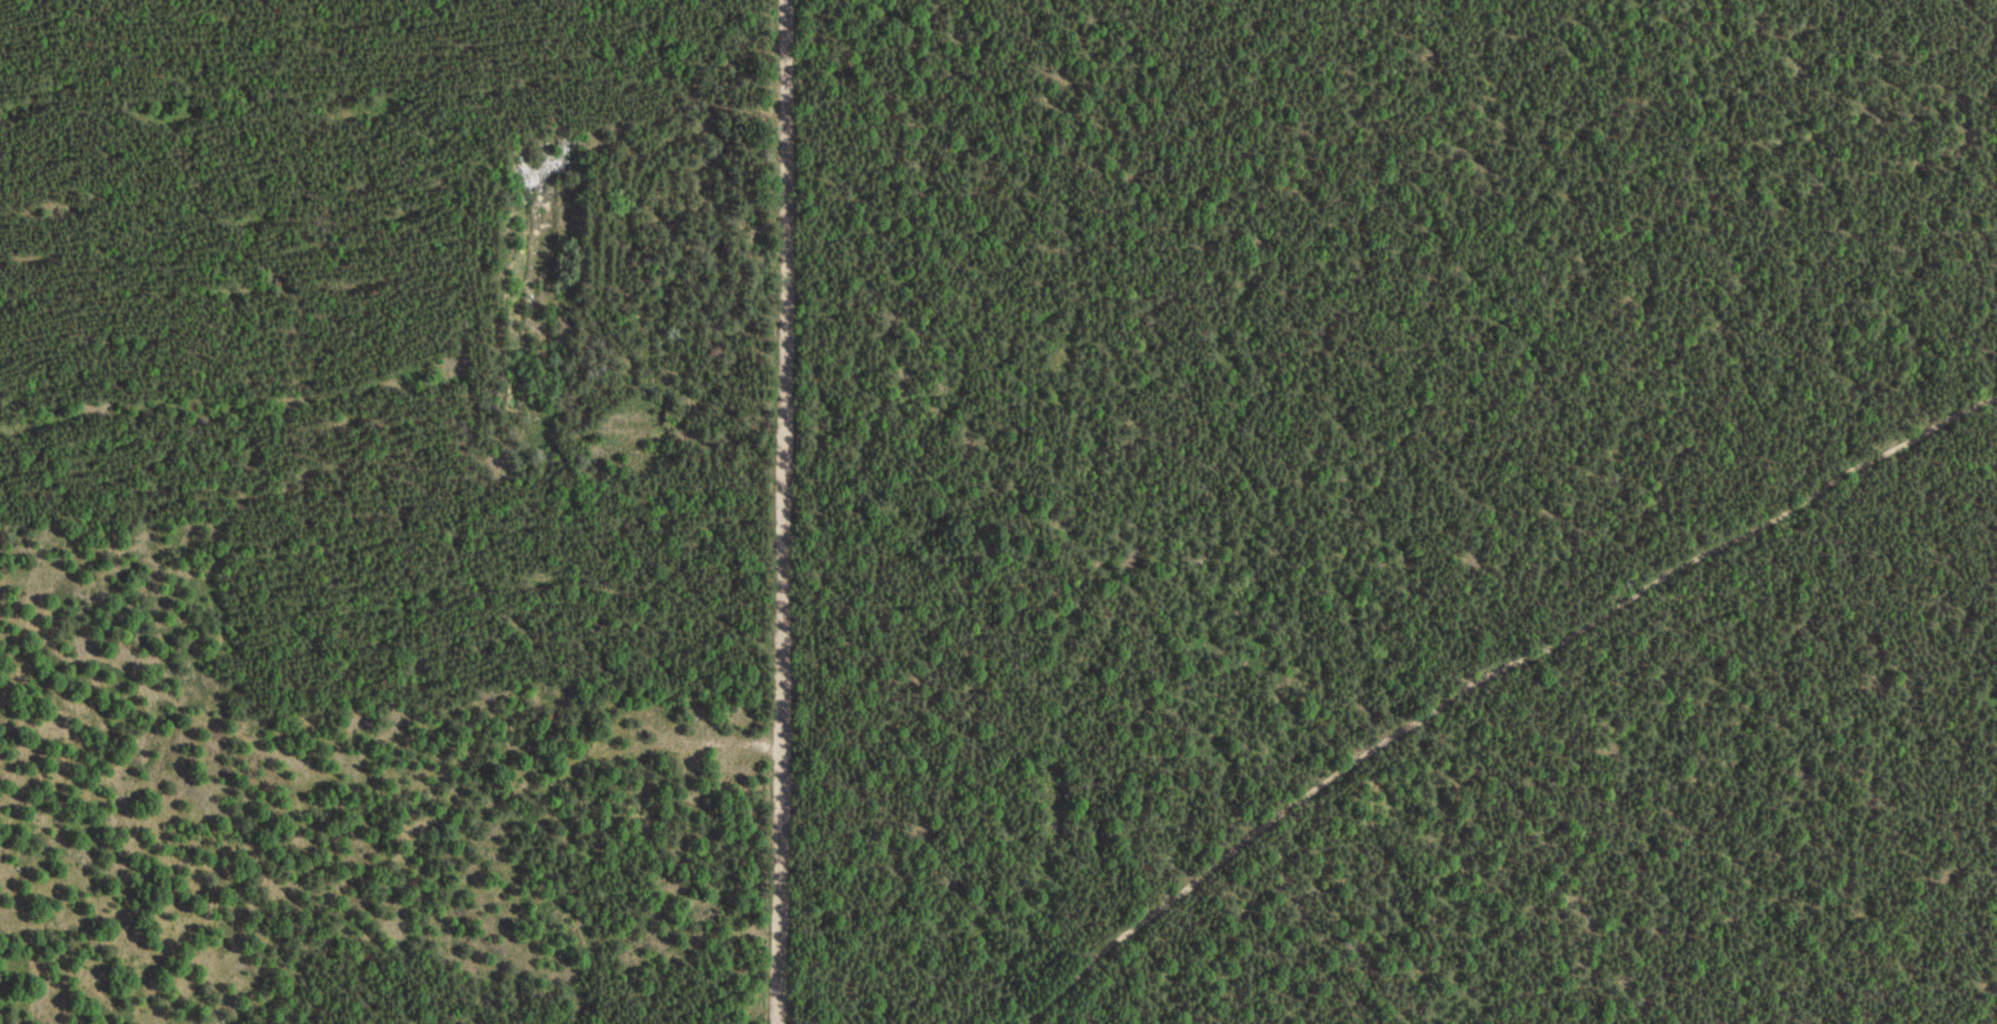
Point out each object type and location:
road: (780, 512)
road: (1491, 677)

